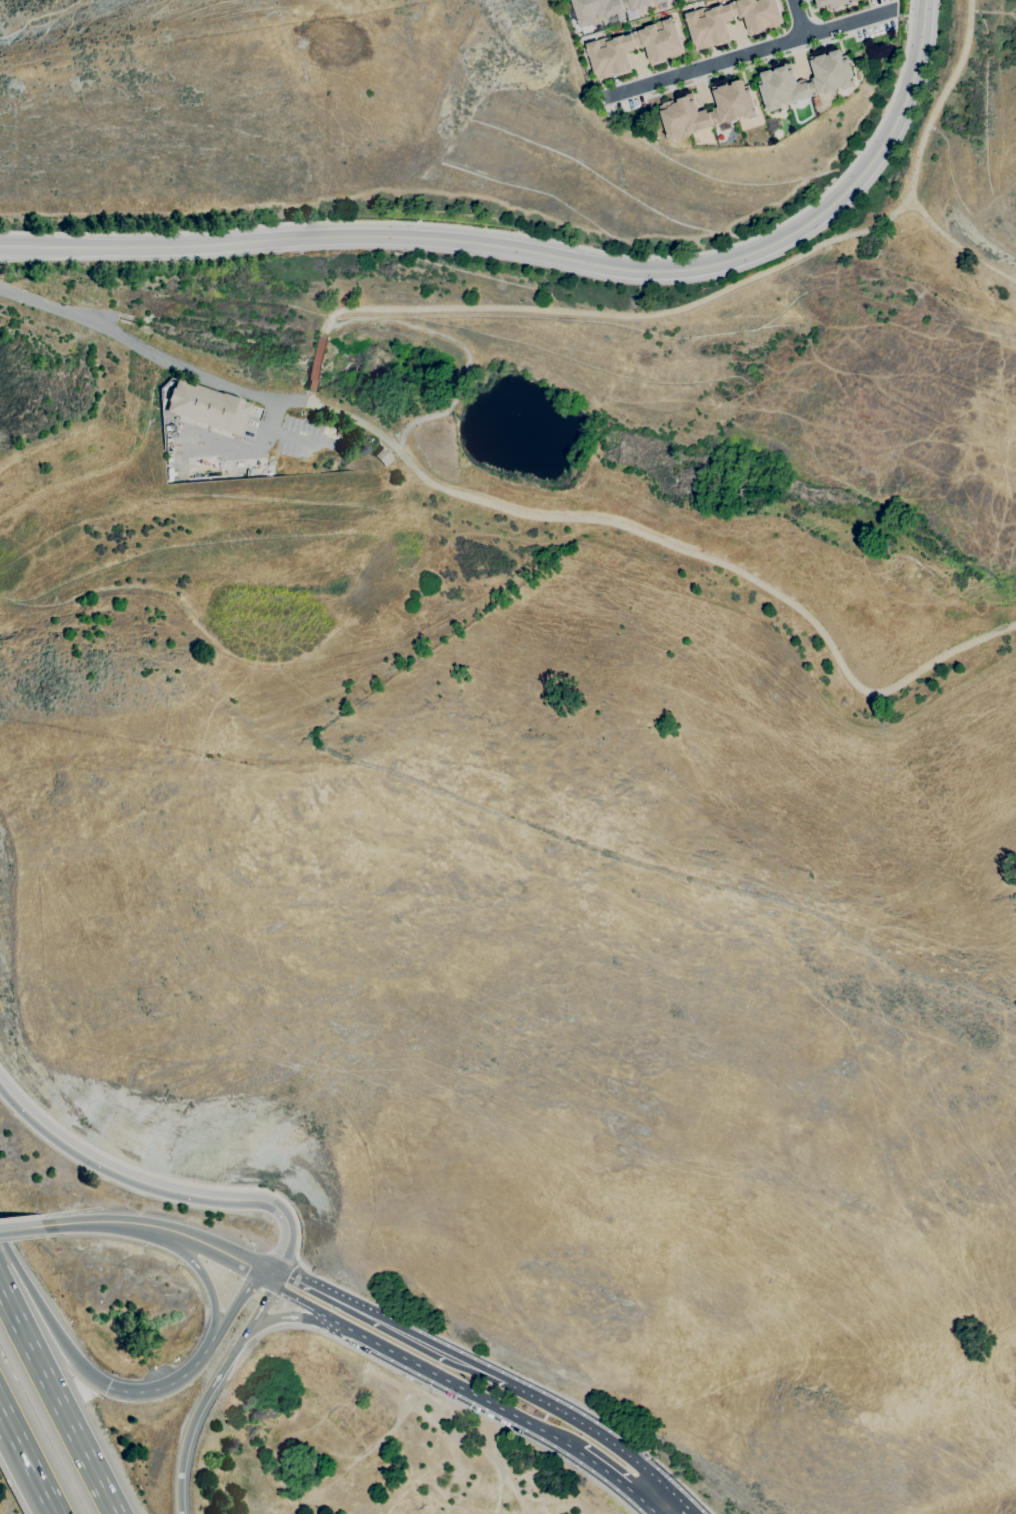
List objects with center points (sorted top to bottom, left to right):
building: (833, 3)
building: (610, 9)
road: (809, 13)
road: (798, 18)
building: (731, 20)
building: (610, 49)
road: (747, 53)
road: (748, 66)
building: (832, 80)
building: (734, 110)
road: (528, 236)
road: (957, 245)
road: (539, 253)
road: (722, 292)
road: (317, 365)
road: (307, 398)
park: (612, 406)
building: (207, 407)
building: (383, 456)
building: (240, 464)
building: (226, 469)
building: (170, 474)
road: (518, 513)
road: (163, 1177)
road: (160, 1188)
road: (67, 1211)
road: (101, 1214)
road: (18, 1218)
road: (98, 1222)
road: (20, 1228)
road: (211, 1246)
road: (283, 1258)
road: (198, 1269)
road: (239, 1296)
road: (265, 1299)
road: (298, 1299)
road: (358, 1308)
road: (293, 1316)
road: (50, 1323)
road: (476, 1367)
road: (175, 1382)
parking lot: (430, 1384)
road: (457, 1386)
traffic signals: (107, 1387)
road: (57, 1400)
road: (451, 1400)
road: (196, 1412)
road: (7, 1419)
road: (587, 1429)
road: (34, 1474)
road: (614, 1479)
road: (656, 1497)
road: (678, 1501)
park: (4, 1505)
road: (651, 1510)

